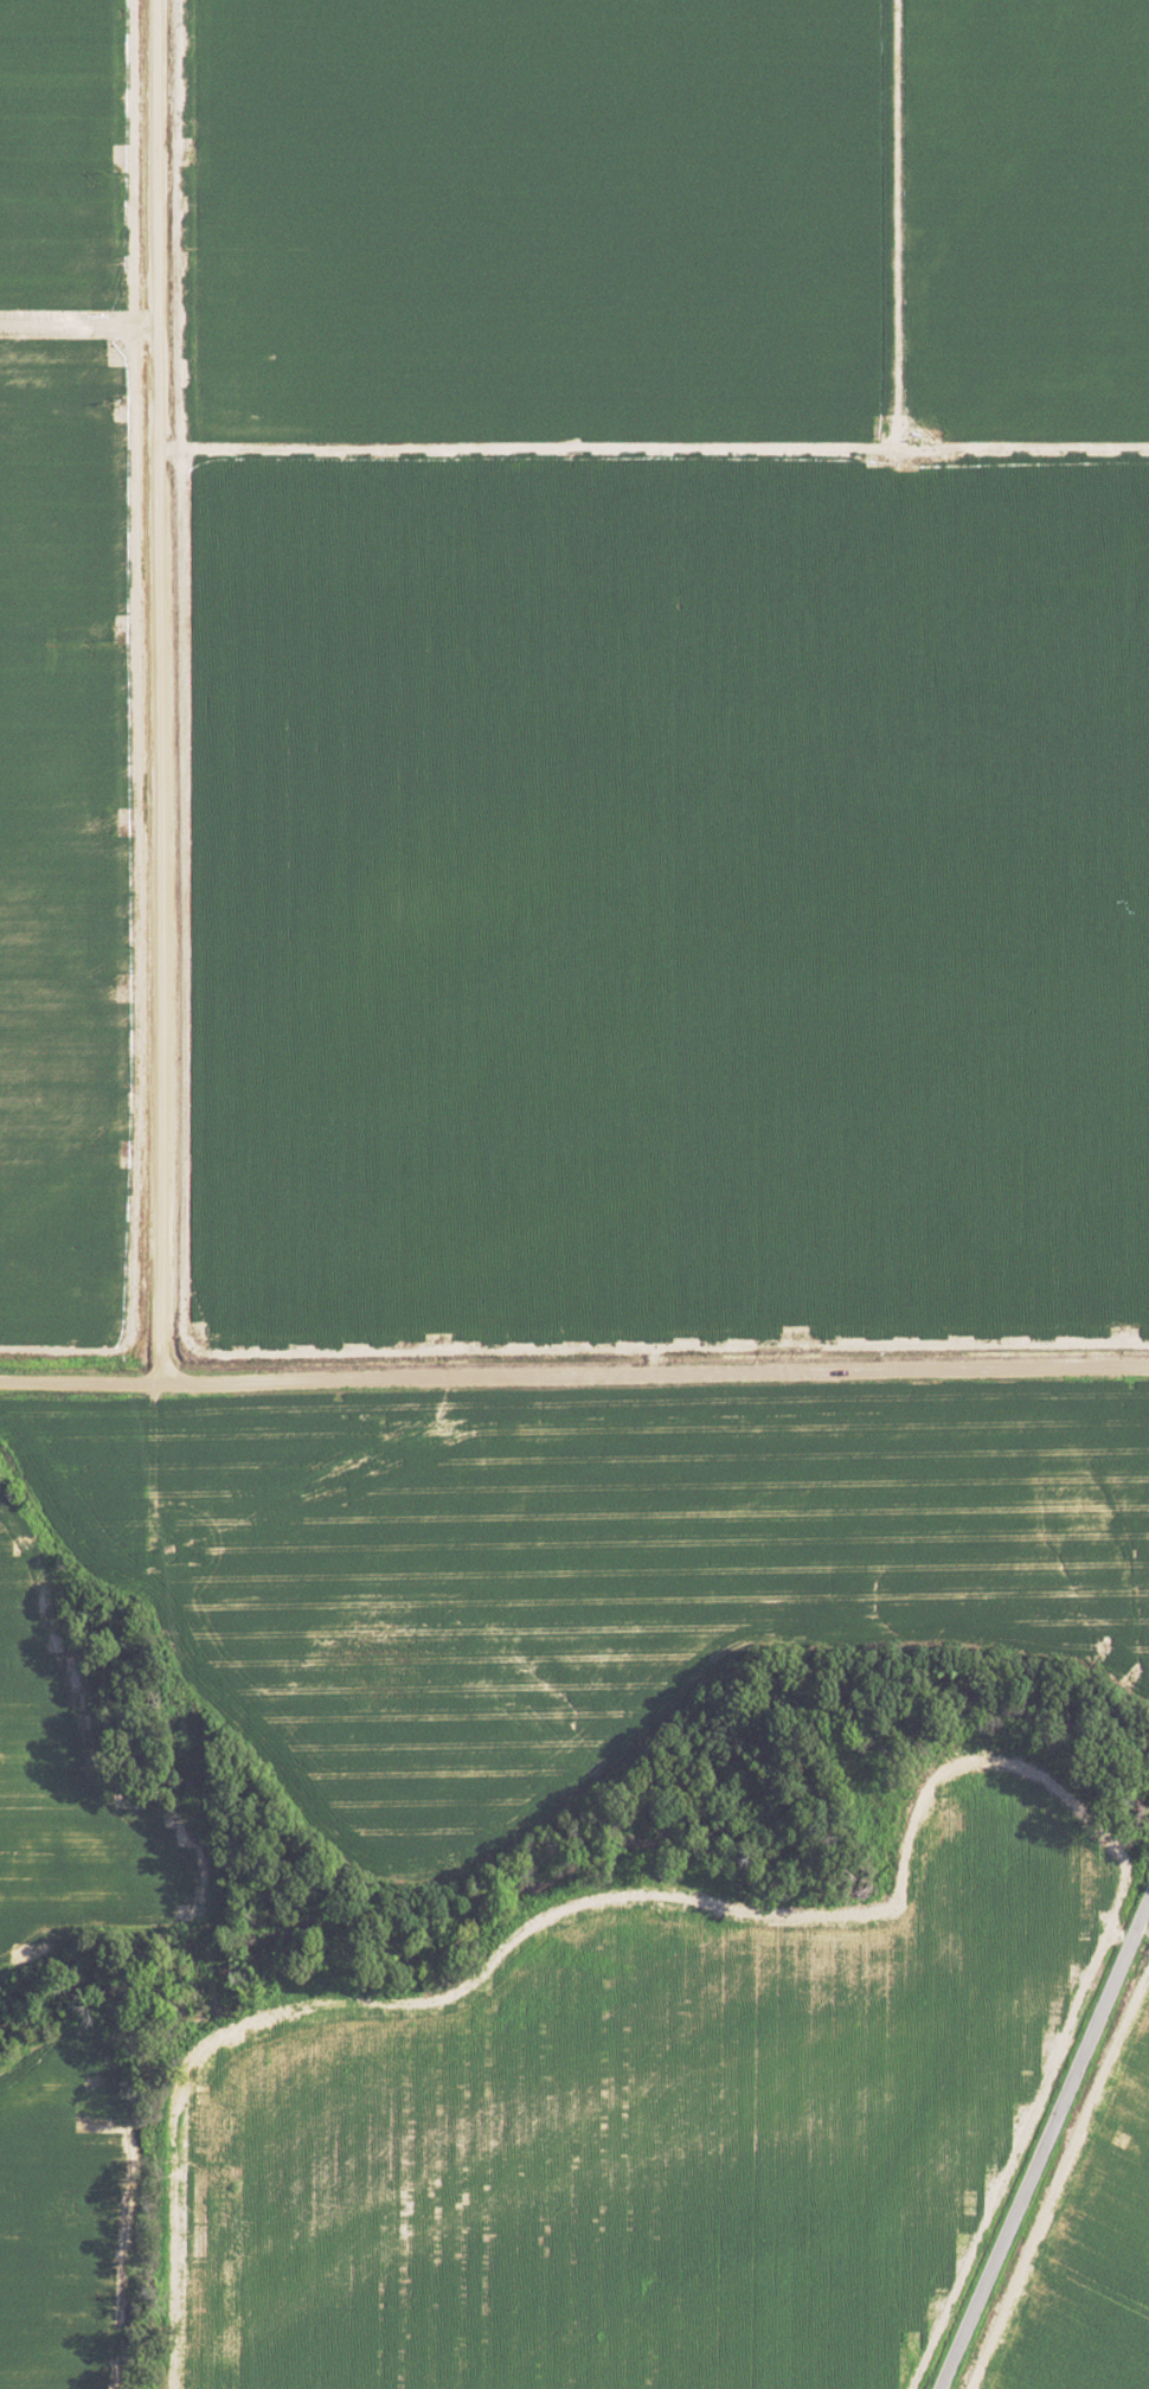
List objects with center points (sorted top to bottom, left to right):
road: (153, 691)
road: (574, 1376)
road: (1042, 2143)

